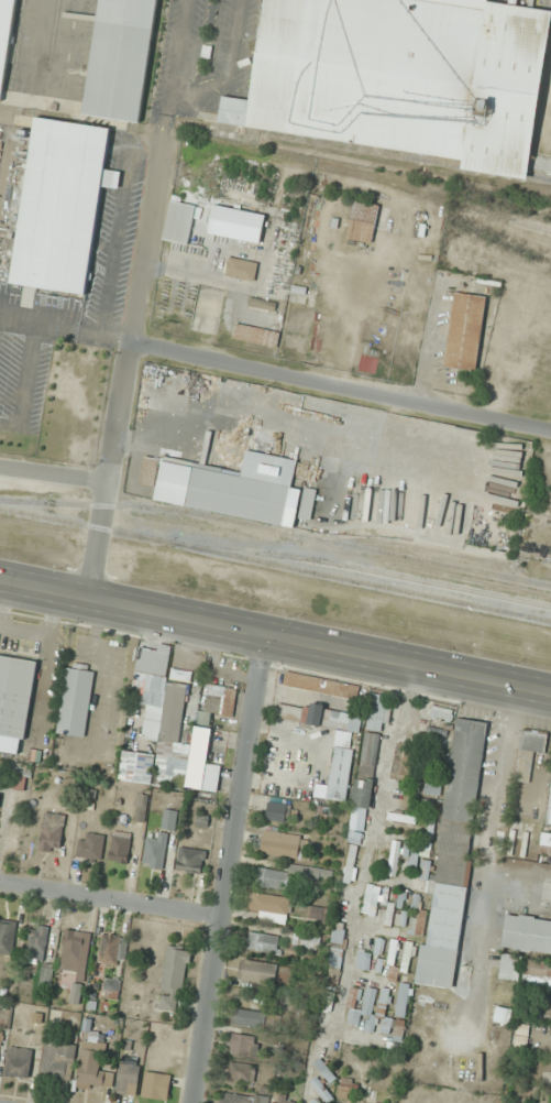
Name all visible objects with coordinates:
building: (5, 41)
building: (120, 58)
building: (403, 78)
railway: (278, 156)
railway: (411, 160)
building: (62, 204)
building: (179, 221)
building: (363, 221)
building: (241, 269)
building: (465, 331)
building: (255, 335)
road: (341, 386)
road: (108, 470)
road: (53, 472)
building: (228, 485)
railway: (277, 529)
railway: (405, 545)
railway: (275, 564)
railway: (364, 568)
road: (275, 637)
building: (180, 675)
building: (333, 687)
building: (159, 696)
building: (76, 699)
building: (221, 700)
building: (15, 701)
building: (378, 712)
building: (322, 717)
building: (530, 752)
building: (370, 753)
building: (404, 761)
building: (202, 763)
building: (137, 766)
building: (170, 766)
building: (340, 773)
building: (361, 804)
building: (277, 811)
building: (549, 815)
building: (403, 817)
building: (172, 819)
building: (52, 831)
building: (280, 844)
building: (546, 845)
building: (91, 847)
building: (120, 847)
building: (154, 852)
building: (453, 855)
building: (394, 858)
building: (352, 859)
building: (191, 860)
road: (229, 869)
building: (373, 898)
road: (111, 899)
building: (269, 907)
building: (318, 913)
building: (388, 914)
building: (401, 919)
building: (527, 933)
building: (7, 936)
building: (307, 940)
building: (41, 941)
building: (263, 941)
building: (338, 944)
building: (77, 948)
building: (110, 949)
building: (408, 957)
building: (363, 960)
building: (510, 968)
building: (537, 971)
building: (266, 972)
building: (174, 979)
building: (112, 984)
building: (403, 1000)
building: (381, 1014)
building: (250, 1018)
building: (243, 1045)
building: (58, 1059)
building: (19, 1062)
building: (93, 1067)
building: (324, 1070)
building: (242, 1071)
building: (128, 1079)
building: (349, 1084)
building: (156, 1085)
building: (322, 1090)
building: (422, 1095)
building: (240, 1099)
building: (283, 1101)
building: (317, 1102)

